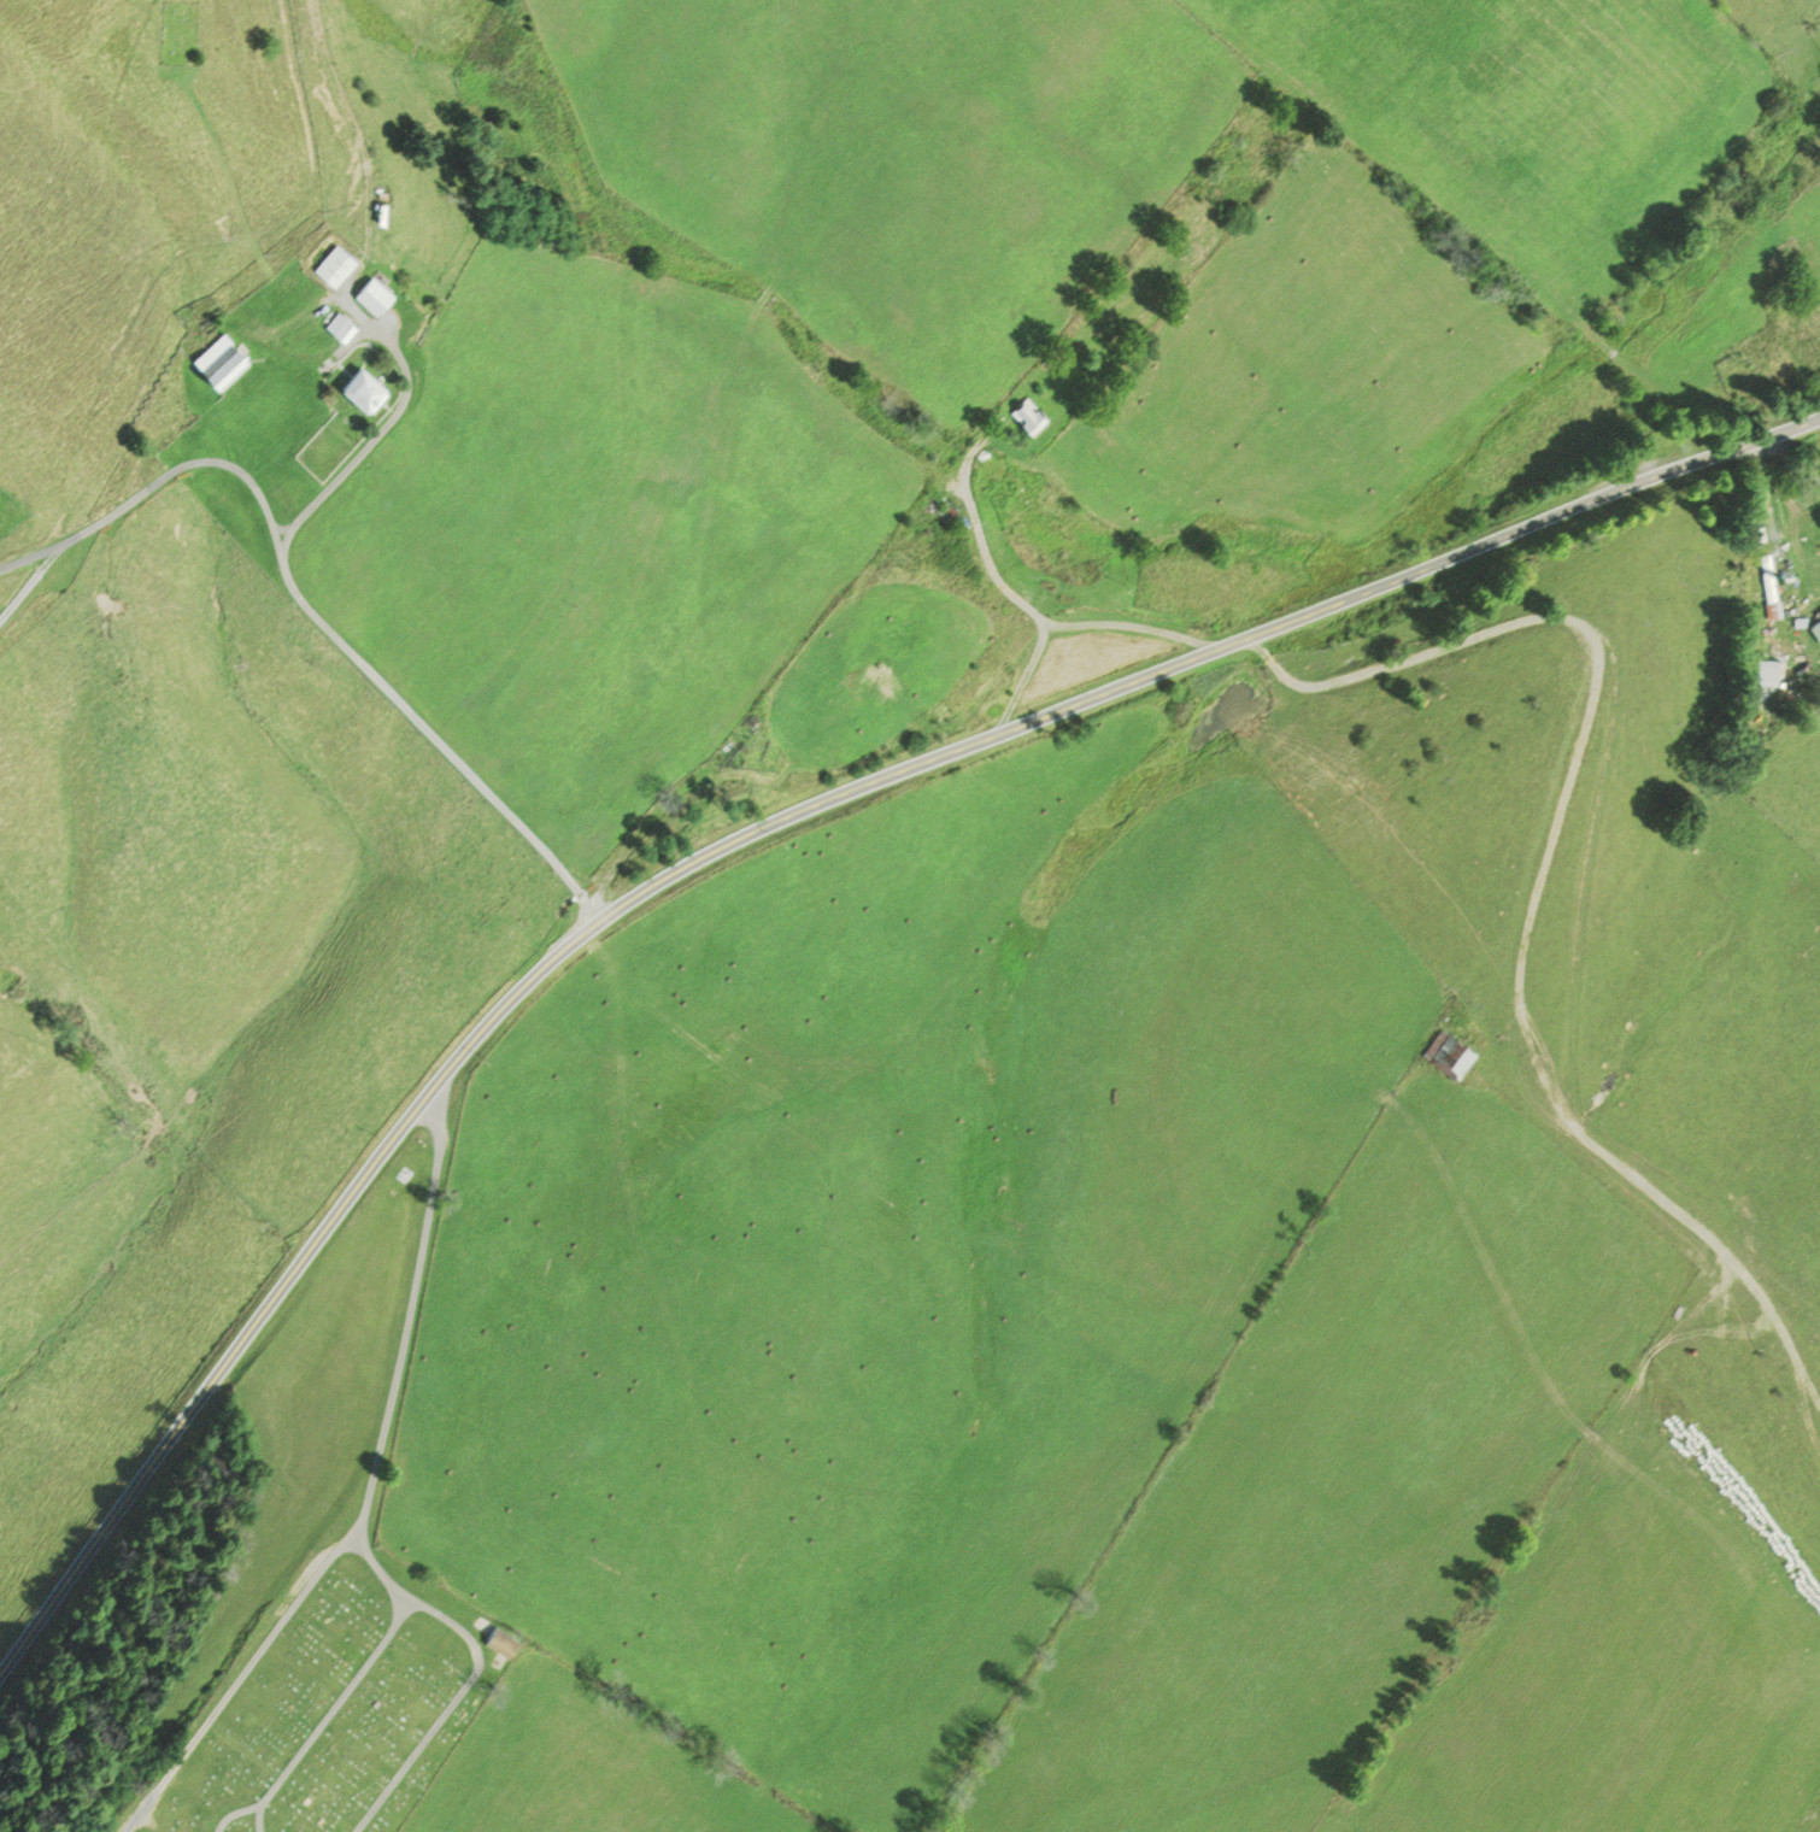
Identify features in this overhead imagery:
road: (353, 129)
road: (241, 210)
building: (335, 265)
building: (371, 293)
building: (340, 324)
building: (218, 359)
building: (360, 386)
road: (399, 407)
building: (1028, 413)
road: (1796, 456)
road: (134, 493)
building: (943, 512)
road: (27, 559)
road: (1002, 588)
building: (1775, 593)
road: (1296, 617)
building: (1801, 622)
building: (1816, 627)
building: (1768, 671)
road: (429, 732)
road: (1538, 879)
building: (1448, 1056)
road: (342, 1204)
crop: (887, 1243)
crop: (1337, 1486)
road: (369, 1497)
building: (501, 1643)
crop: (1620, 1655)
road: (474, 1677)
road: (330, 1711)
crop: (576, 1768)
road: (235, 1815)

